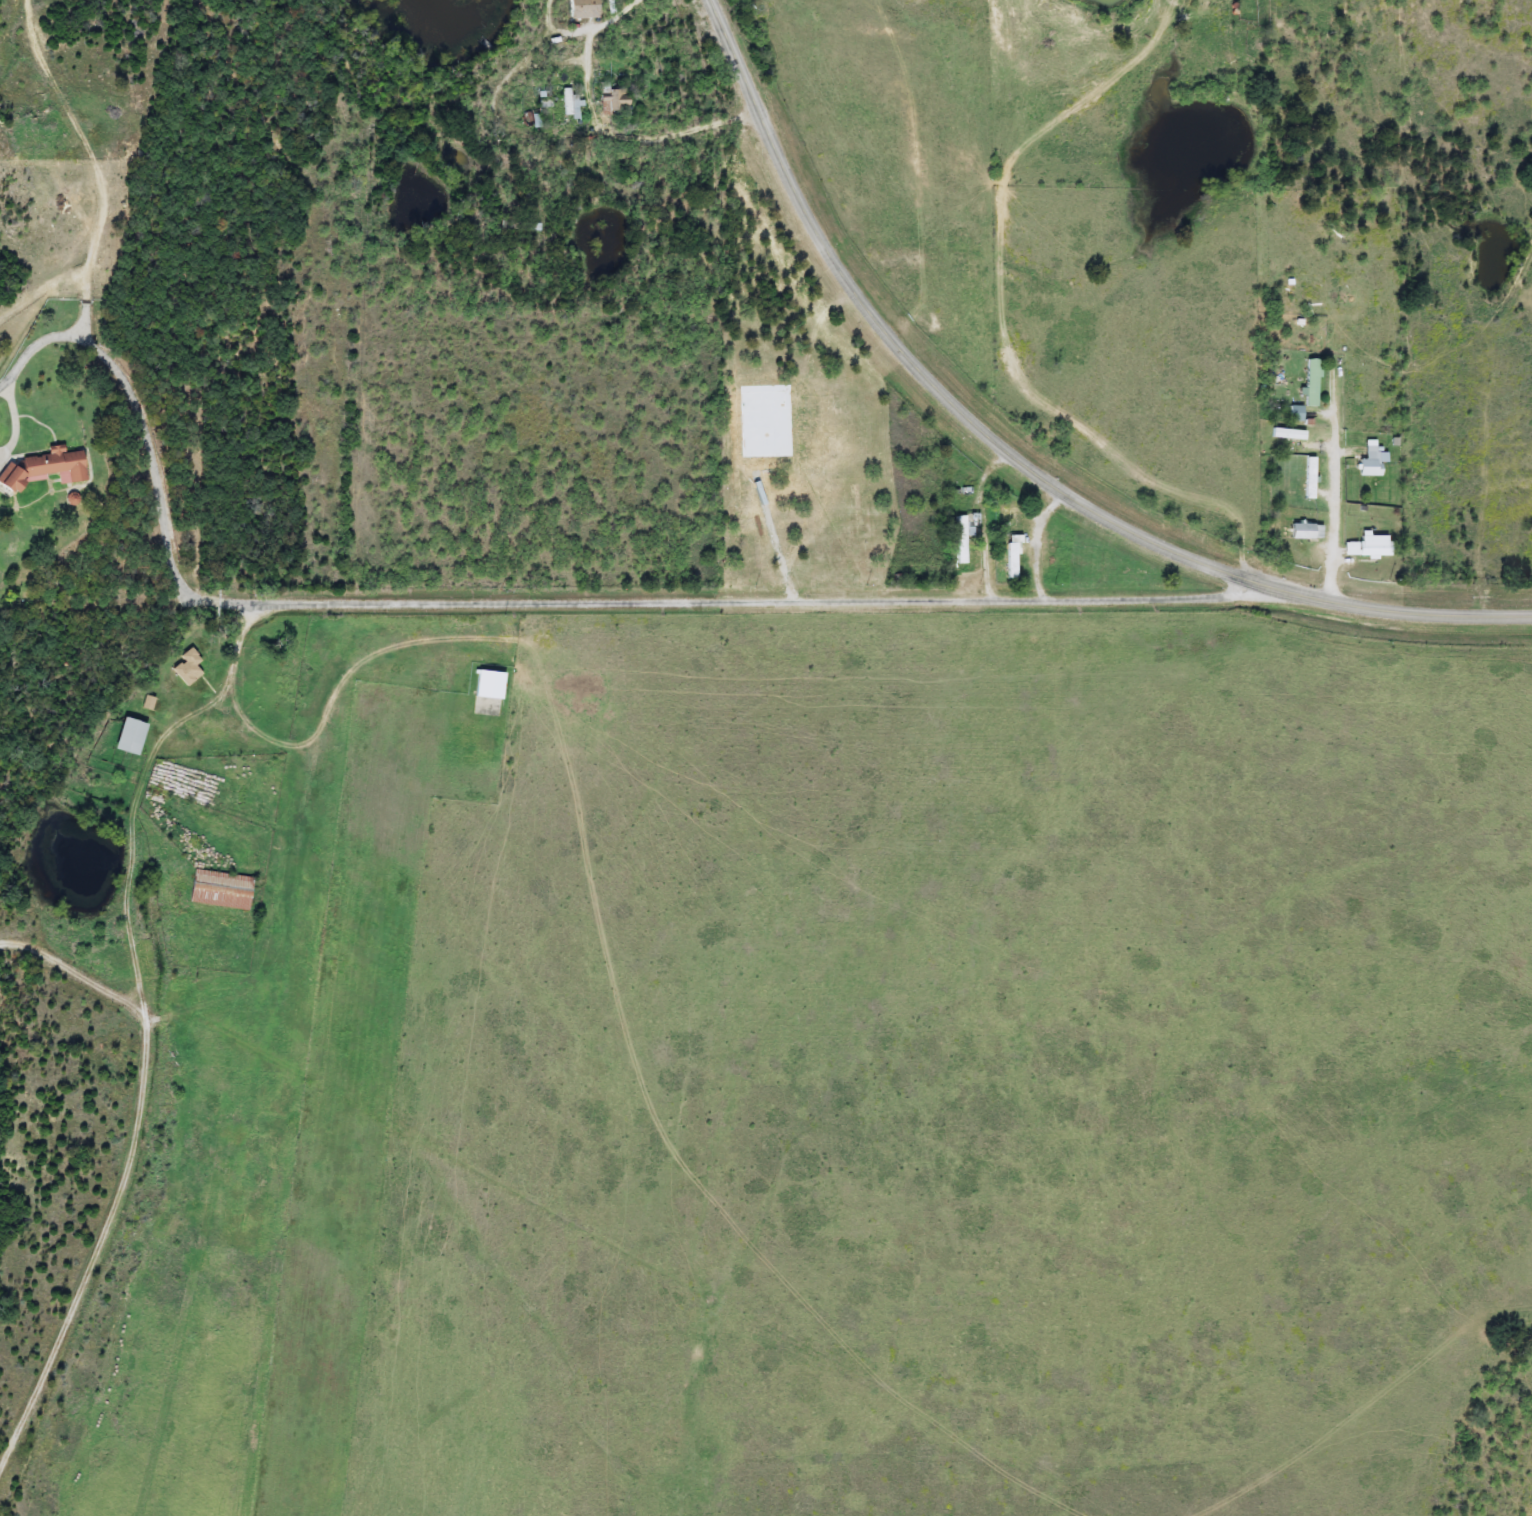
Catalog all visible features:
building: (585, 7)
building: (615, 96)
building: (571, 100)
road: (517, 134)
road: (98, 163)
road: (1258, 285)
road: (36, 346)
road: (70, 377)
building: (1312, 382)
building: (1296, 413)
building: (1289, 433)
road: (1013, 453)
building: (1371, 461)
building: (47, 467)
building: (1310, 477)
road: (1333, 485)
building: (1009, 517)
road: (982, 520)
building: (1307, 531)
building: (964, 535)
road: (1033, 541)
building: (1370, 546)
building: (1014, 556)
building: (1069, 564)
road: (599, 601)
building: (189, 667)
building: (490, 684)
building: (132, 736)
building: (222, 890)
road: (154, 1029)
airport: (841, 1072)
airport runway: (355, 1092)

